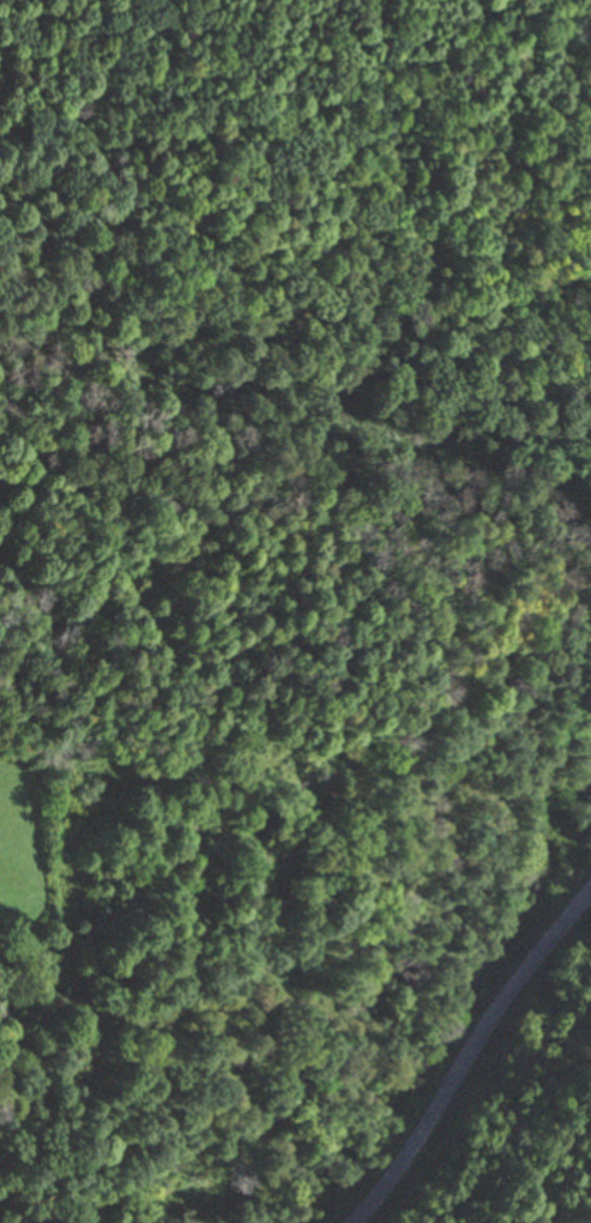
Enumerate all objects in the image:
road: (465, 1055)

